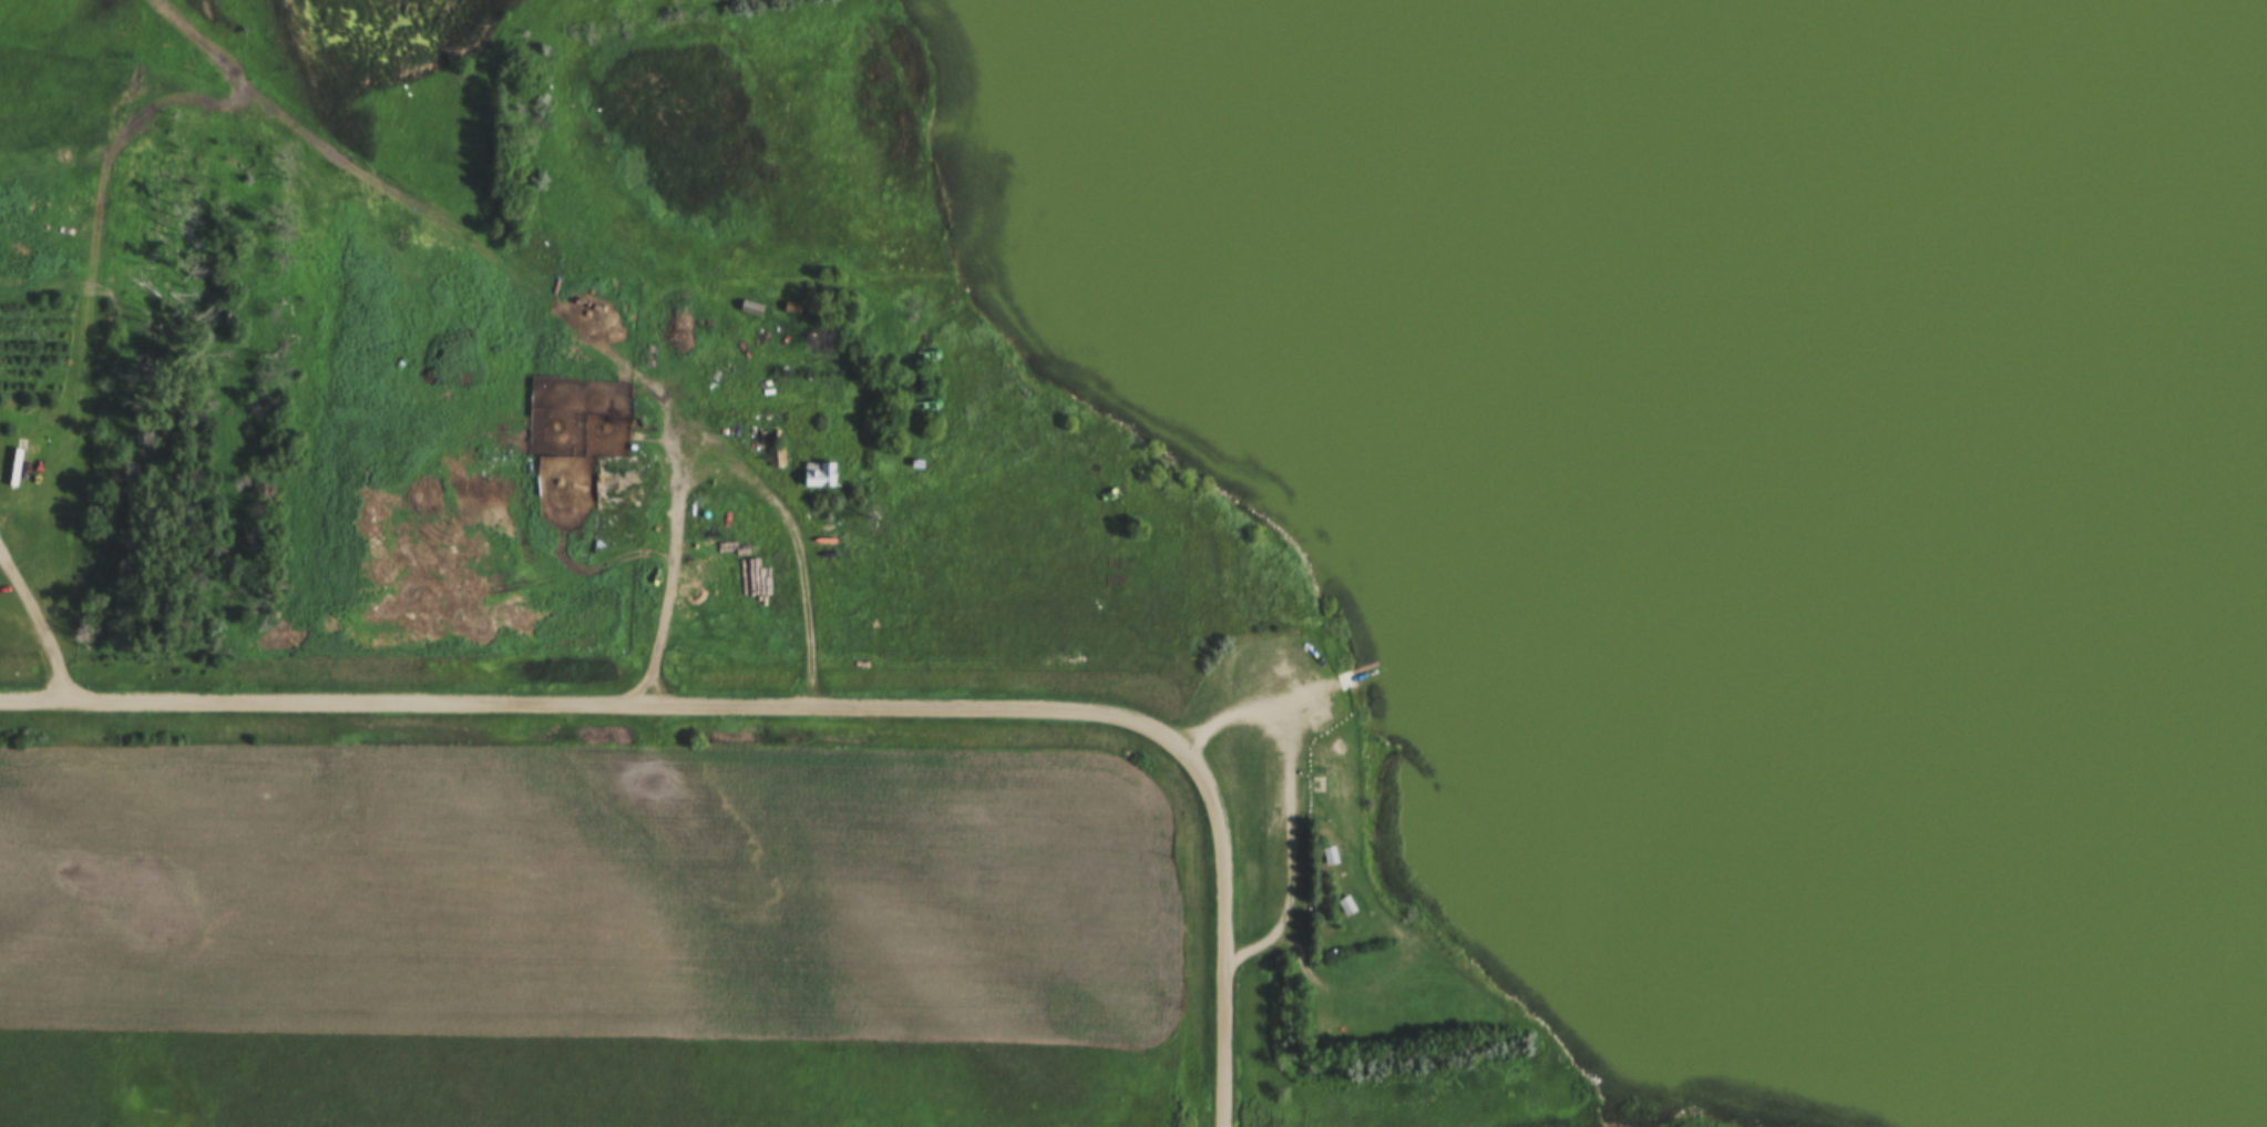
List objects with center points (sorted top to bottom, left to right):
road: (454, 226)
road: (737, 479)
road: (35, 624)
building: (1345, 680)
road: (1296, 685)
road: (596, 703)
building: (1307, 775)
road: (1288, 807)
building: (1321, 844)
building: (1325, 856)
park: (1330, 868)
building: (1337, 895)
building: (1342, 906)
road: (1219, 931)

